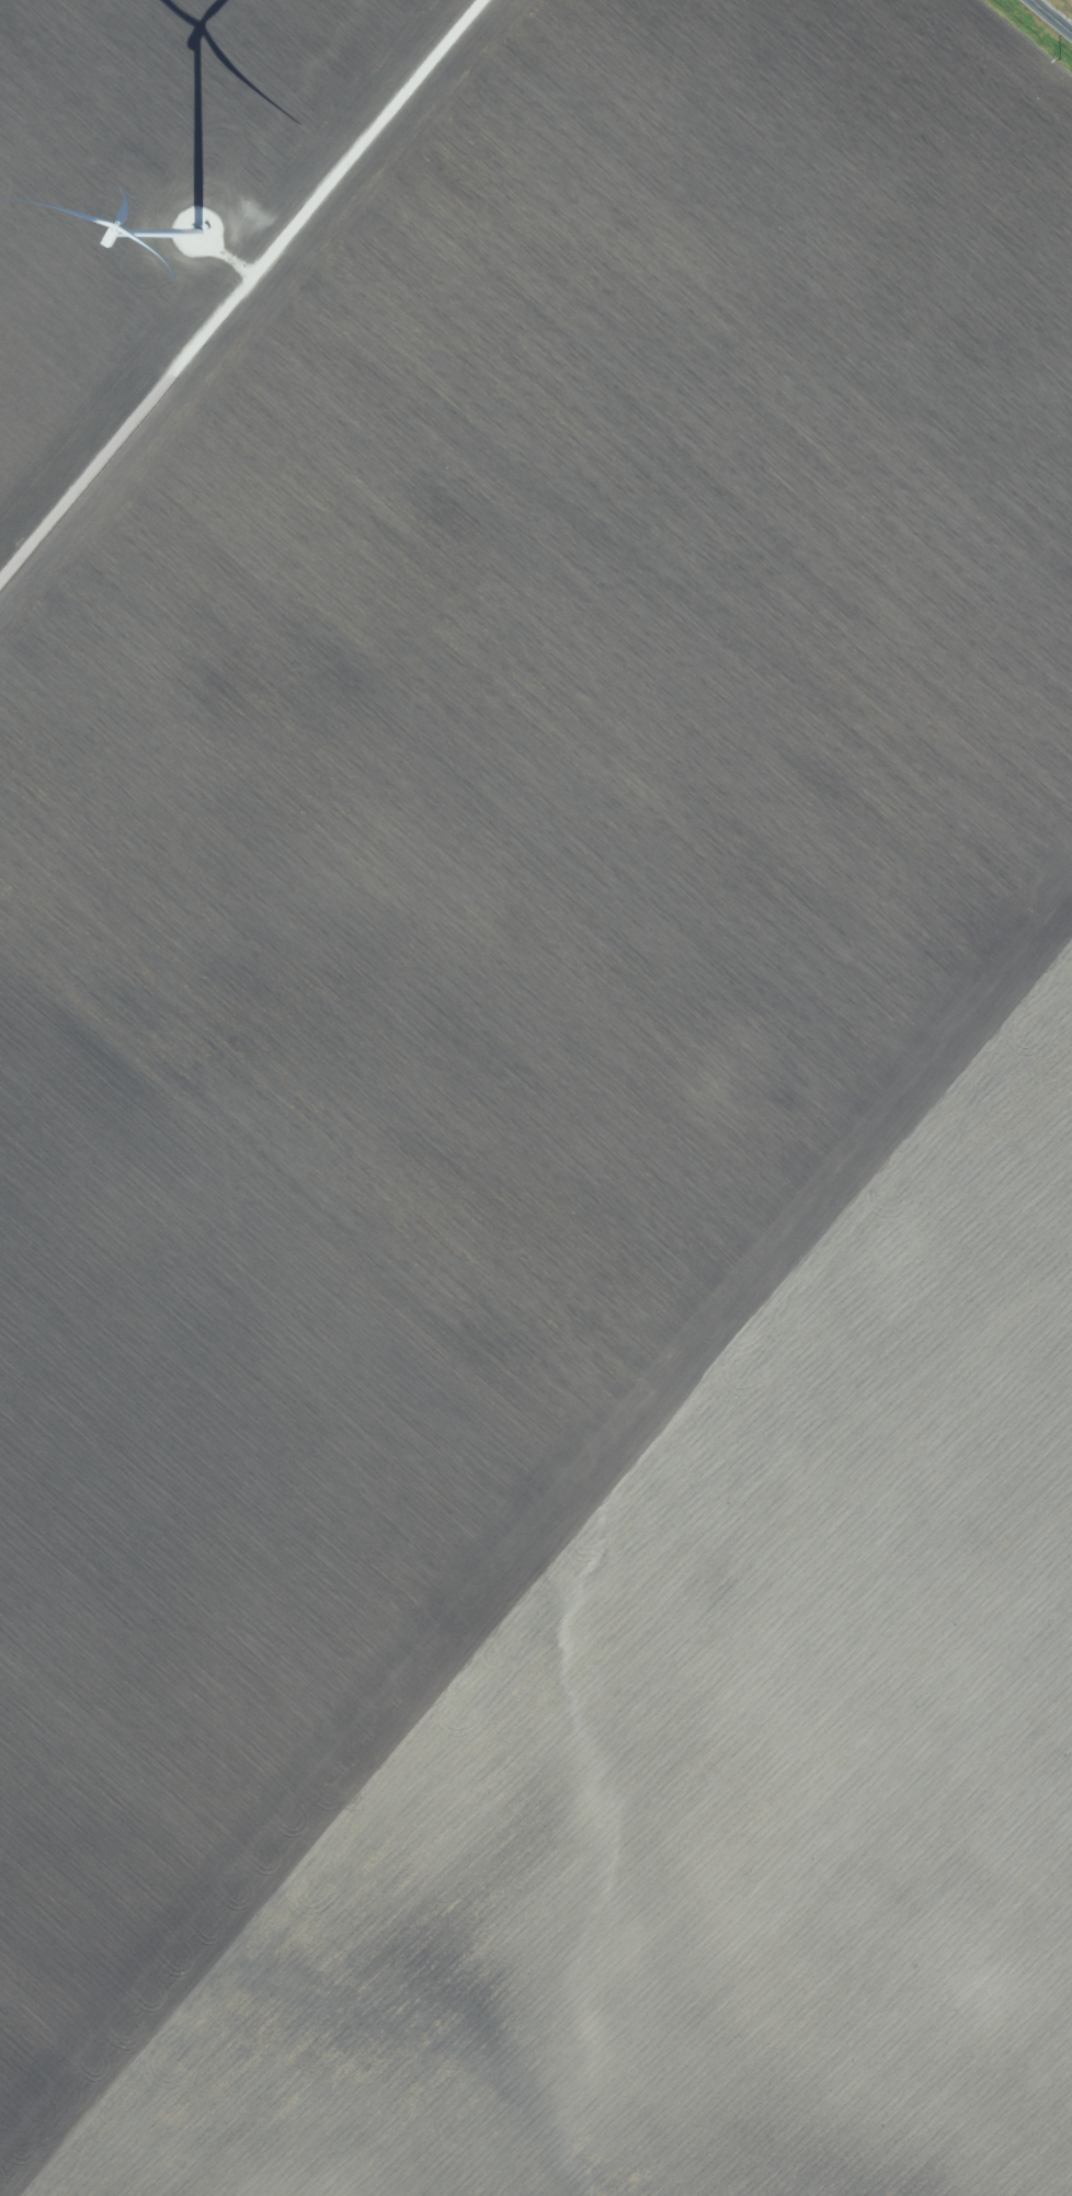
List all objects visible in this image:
road: (1051, 16)
wind turbine: (183, 218)

